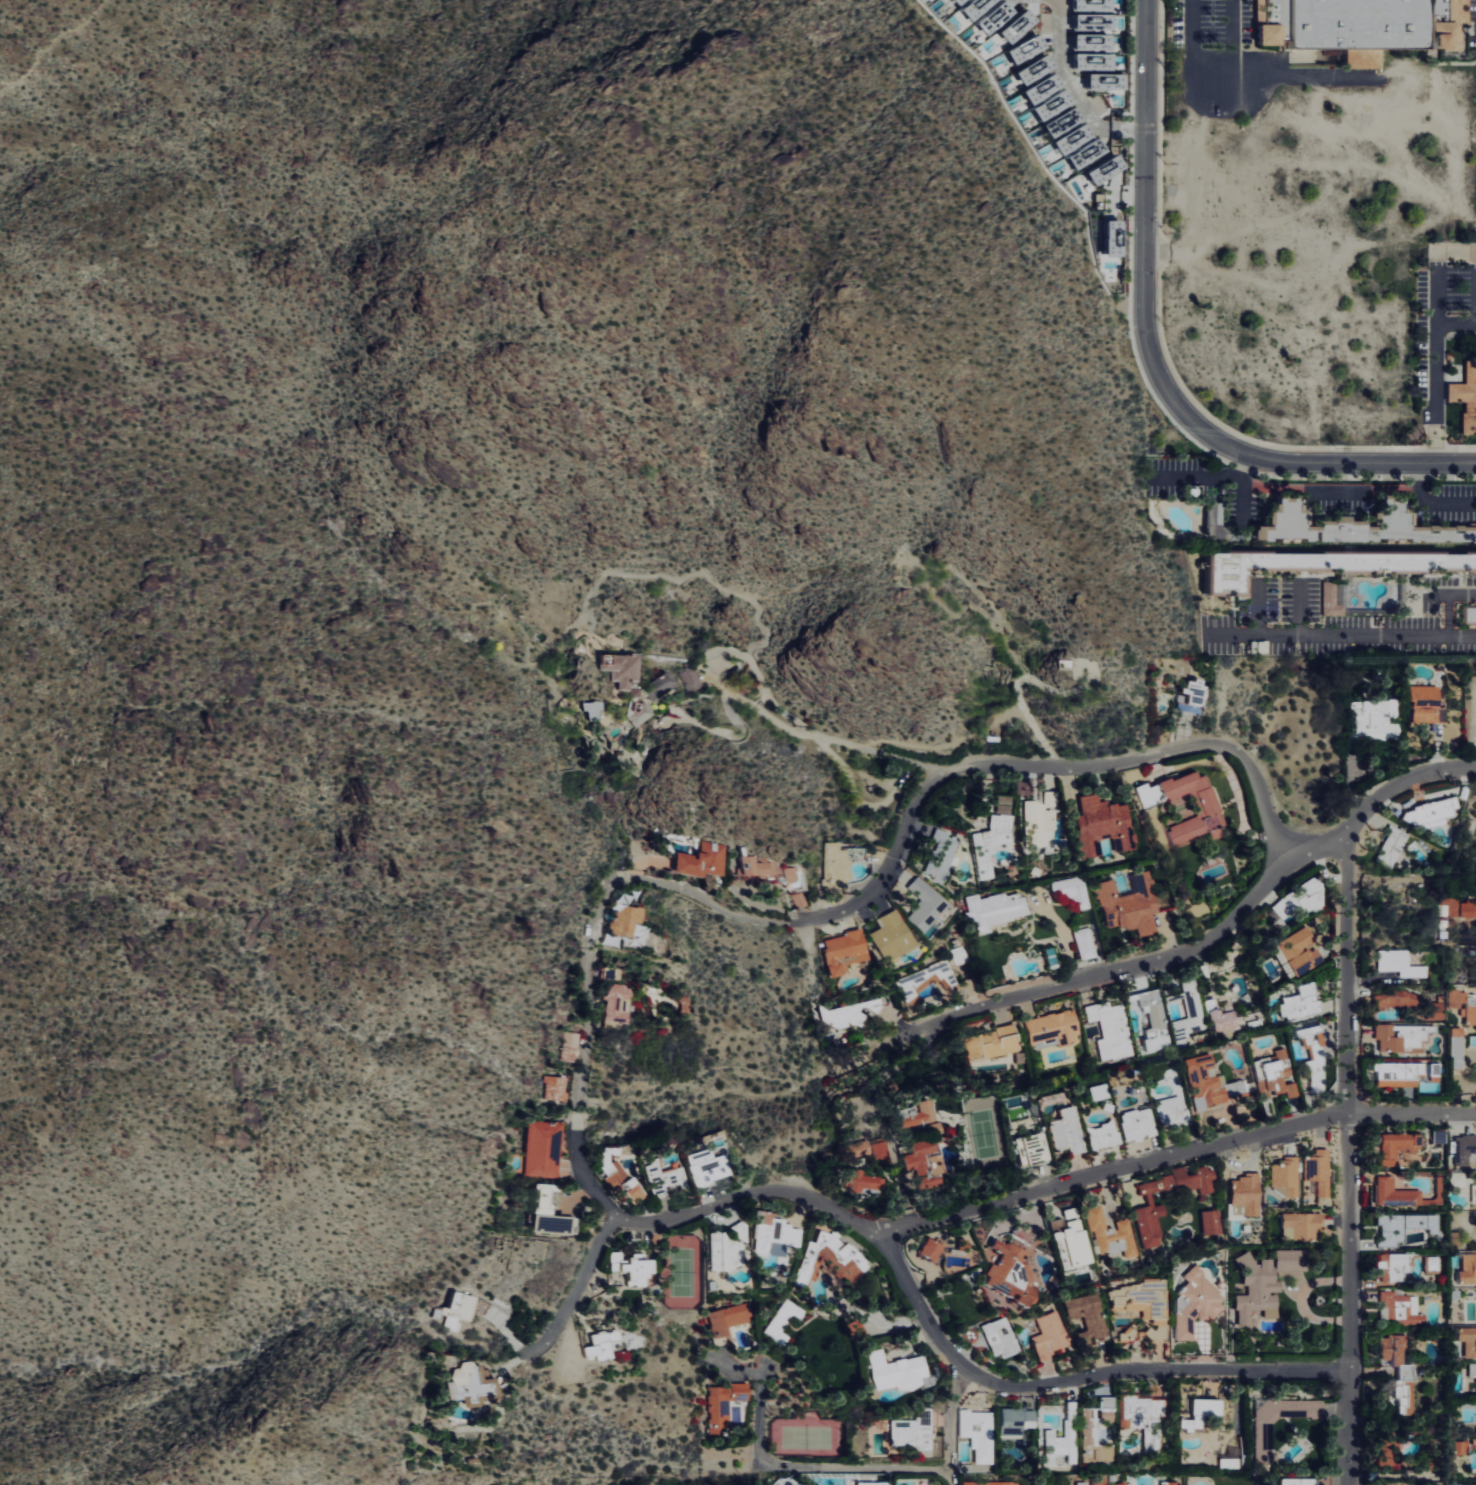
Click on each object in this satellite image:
building: (960, 1)
building: (1094, 5)
building: (977, 8)
building: (997, 17)
building: (1094, 22)
building: (1019, 26)
building: (1360, 26)
road: (1233, 40)
building: (1094, 42)
building: (1028, 49)
road: (52, 51)
building: (1094, 61)
building: (1037, 69)
road: (1244, 80)
building: (1107, 82)
road: (1072, 91)
building: (1049, 97)
building: (1076, 138)
building: (1107, 169)
building: (1115, 238)
road: (1437, 270)
road: (1475, 306)
road: (1158, 360)
road: (1437, 394)
building: (1465, 396)
road: (1245, 464)
road: (1219, 475)
road: (1430, 503)
building: (1213, 518)
building: (1354, 528)
building: (1317, 566)
building: (1329, 601)
road: (1448, 601)
road: (1257, 608)
road: (1300, 608)
building: (1468, 614)
road: (1341, 635)
building: (1056, 666)
building: (617, 670)
building: (694, 678)
building: (661, 684)
building: (632, 692)
building: (1193, 698)
building: (1422, 704)
building: (589, 710)
building: (637, 715)
building: (1372, 720)
road: (820, 738)
road: (1032, 767)
building: (1051, 798)
building: (1207, 805)
building: (1426, 810)
building: (1037, 822)
building: (1102, 825)
building: (990, 838)
building: (1389, 846)
road: (1167, 852)
building: (940, 853)
building: (875, 856)
building: (699, 860)
building: (837, 865)
building: (761, 869)
building: (790, 873)
building: (1072, 890)
building: (1299, 898)
building: (797, 900)
building: (1129, 902)
road: (602, 904)
building: (922, 904)
building: (1452, 904)
building: (990, 910)
building: (622, 921)
building: (890, 935)
building: (1084, 944)
building: (1298, 950)
road: (1191, 951)
building: (839, 952)
building: (958, 956)
building: (1396, 963)
building: (608, 973)
building: (924, 979)
building: (1392, 999)
building: (1300, 1001)
building: (614, 1002)
building: (1461, 1004)
building: (1433, 1010)
building: (1187, 1013)
building: (847, 1014)
building: (1216, 1016)
building: (1153, 1019)
building: (1251, 1026)
building: (1051, 1028)
building: (1109, 1030)
building: (1395, 1036)
building: (992, 1042)
building: (569, 1047)
building: (1311, 1047)
building: (1453, 1047)
building: (1394, 1072)
building: (1429, 1072)
building: (1436, 1072)
building: (1272, 1076)
building: (1208, 1084)
building: (553, 1088)
building: (1100, 1091)
building: (1170, 1113)
building: (1137, 1126)
building: (1067, 1133)
building: (1436, 1135)
building: (1104, 1138)
building: (1464, 1143)
building: (922, 1144)
building: (1394, 1145)
building: (860, 1149)
building: (1032, 1150)
building: (542, 1151)
building: (881, 1155)
road: (1173, 1156)
road: (1347, 1160)
building: (705, 1166)
road: (581, 1169)
building: (1317, 1172)
building: (617, 1177)
building: (1283, 1179)
building: (1455, 1179)
building: (661, 1180)
building: (864, 1180)
building: (1440, 1192)
building: (1400, 1193)
building: (1472, 1193)
building: (1243, 1195)
road: (749, 1198)
building: (1149, 1207)
building: (546, 1213)
building: (1207, 1222)
building: (1298, 1226)
building: (1400, 1226)
building: (773, 1231)
building: (1021, 1233)
building: (1105, 1234)
building: (1453, 1237)
building: (1068, 1246)
building: (722, 1249)
building: (929, 1250)
building: (828, 1258)
building: (1288, 1260)
building: (1430, 1264)
building: (629, 1266)
building: (1008, 1266)
building: (1393, 1266)
building: (1466, 1268)
building: (708, 1286)
road: (577, 1289)
building: (1252, 1290)
building: (1142, 1303)
building: (1192, 1304)
building: (1395, 1308)
building: (456, 1310)
building: (1083, 1318)
building: (724, 1319)
building: (771, 1323)
building: (857, 1331)
building: (1048, 1335)
building: (1124, 1336)
building: (996, 1338)
building: (1466, 1341)
building: (598, 1343)
building: (1390, 1348)
building: (892, 1371)
road: (1071, 1372)
building: (1408, 1373)
building: (1475, 1374)
building: (474, 1386)
building: (720, 1404)
building: (1195, 1416)
building: (1142, 1419)
building: (1011, 1422)
road: (950, 1425)
building: (913, 1433)
building: (1094, 1433)
building: (977, 1437)
building: (1261, 1444)
building: (1431, 1445)
building: (1456, 1445)
building: (1060, 1446)
building: (1385, 1449)
building: (1225, 1462)
road: (790, 1465)
building: (1096, 1481)
building: (1167, 1482)
building: (1296, 1482)
building: (988, 1483)
building: (1078, 1483)
building: (1121, 1484)

